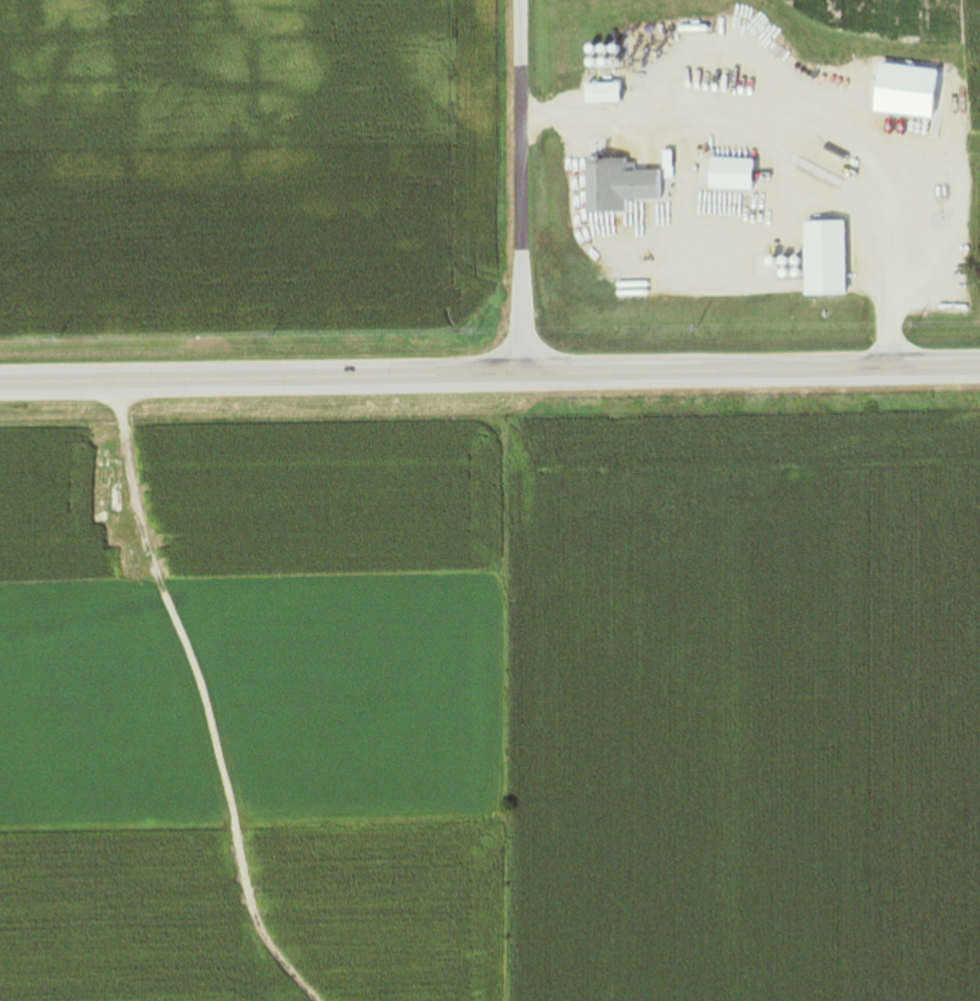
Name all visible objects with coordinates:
building: (601, 94)
road: (814, 125)
building: (729, 174)
building: (616, 186)
road: (520, 189)
building: (823, 258)
road: (489, 378)

